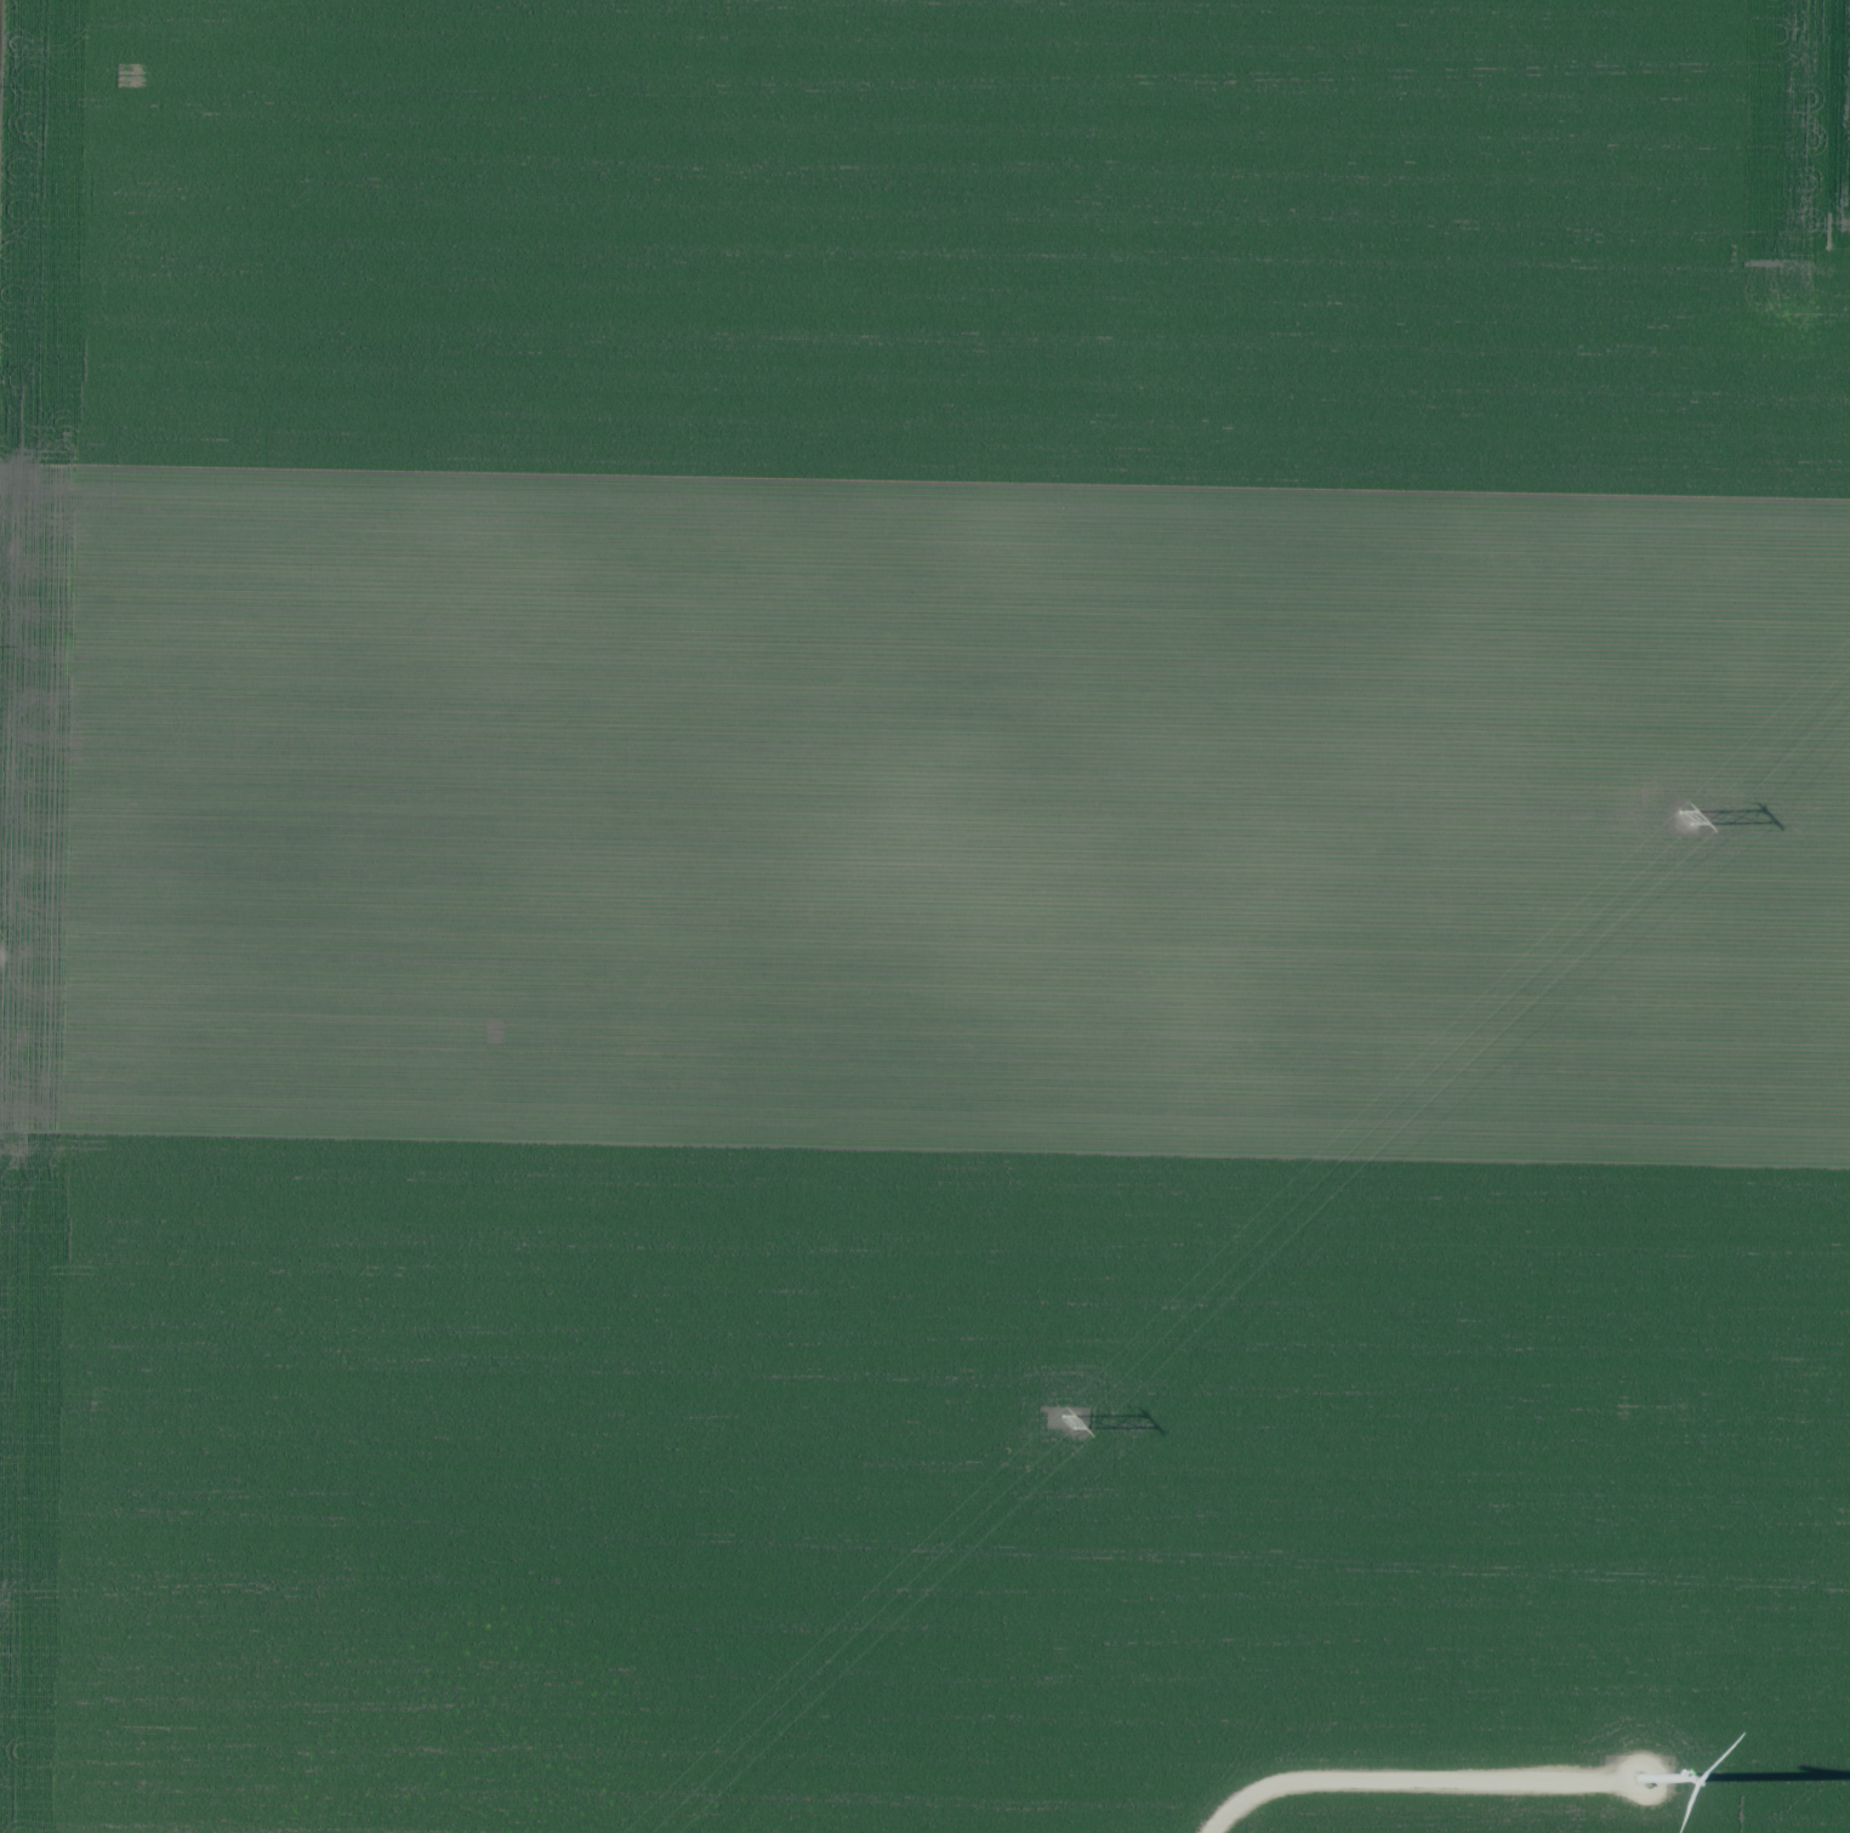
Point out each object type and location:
power tower: (1683, 816)
power tower: (1068, 1419)
wind turbine: (1645, 1771)

